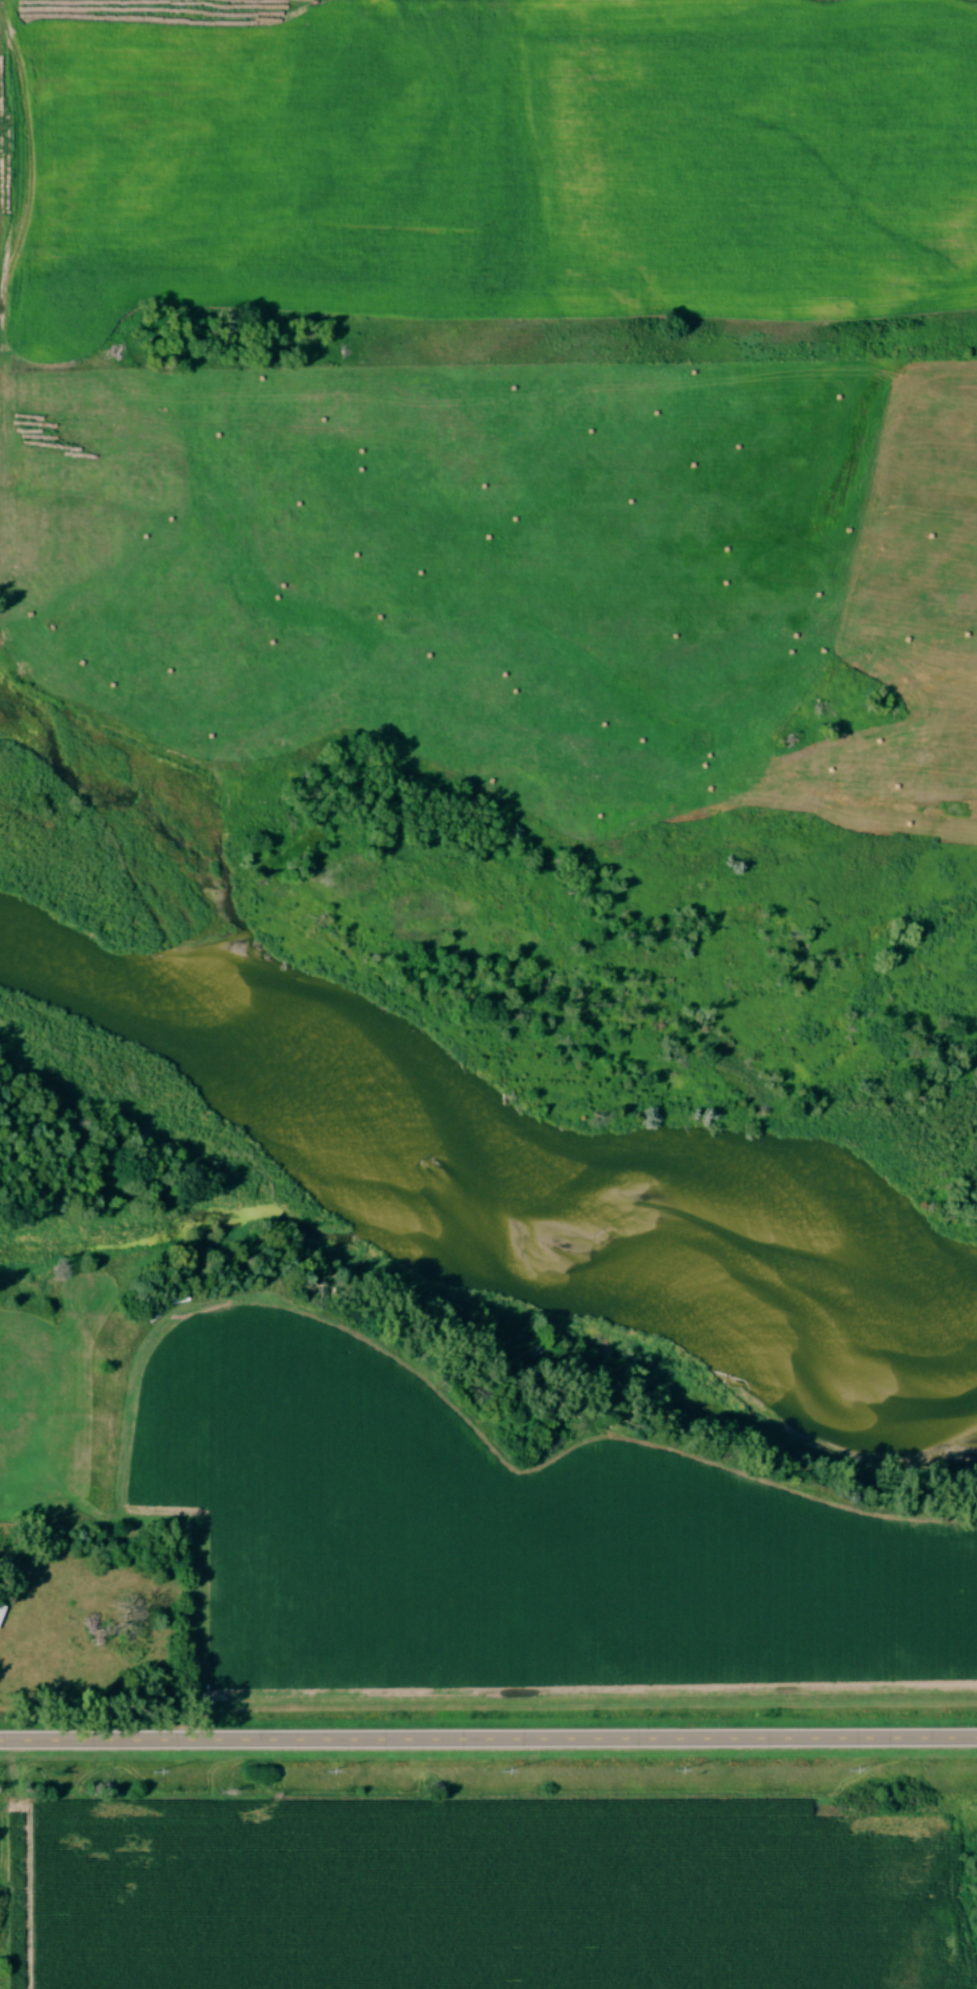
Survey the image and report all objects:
river: (497, 1131)
building: (2, 1615)
road: (488, 1739)

